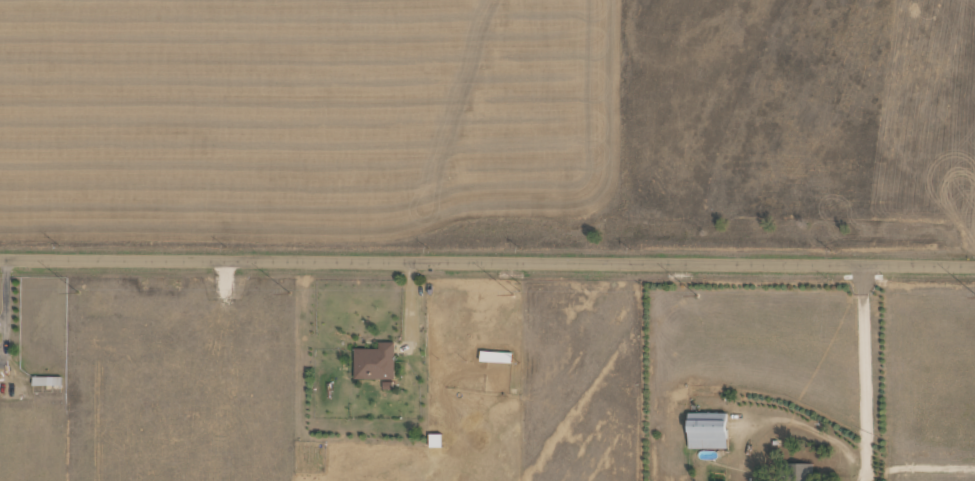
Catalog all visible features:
road: (487, 260)
power tower: (72, 291)
power tower: (285, 291)
power tower: (509, 293)
power tower: (694, 294)
building: (494, 356)
building: (374, 361)
building: (706, 430)
building: (796, 471)

